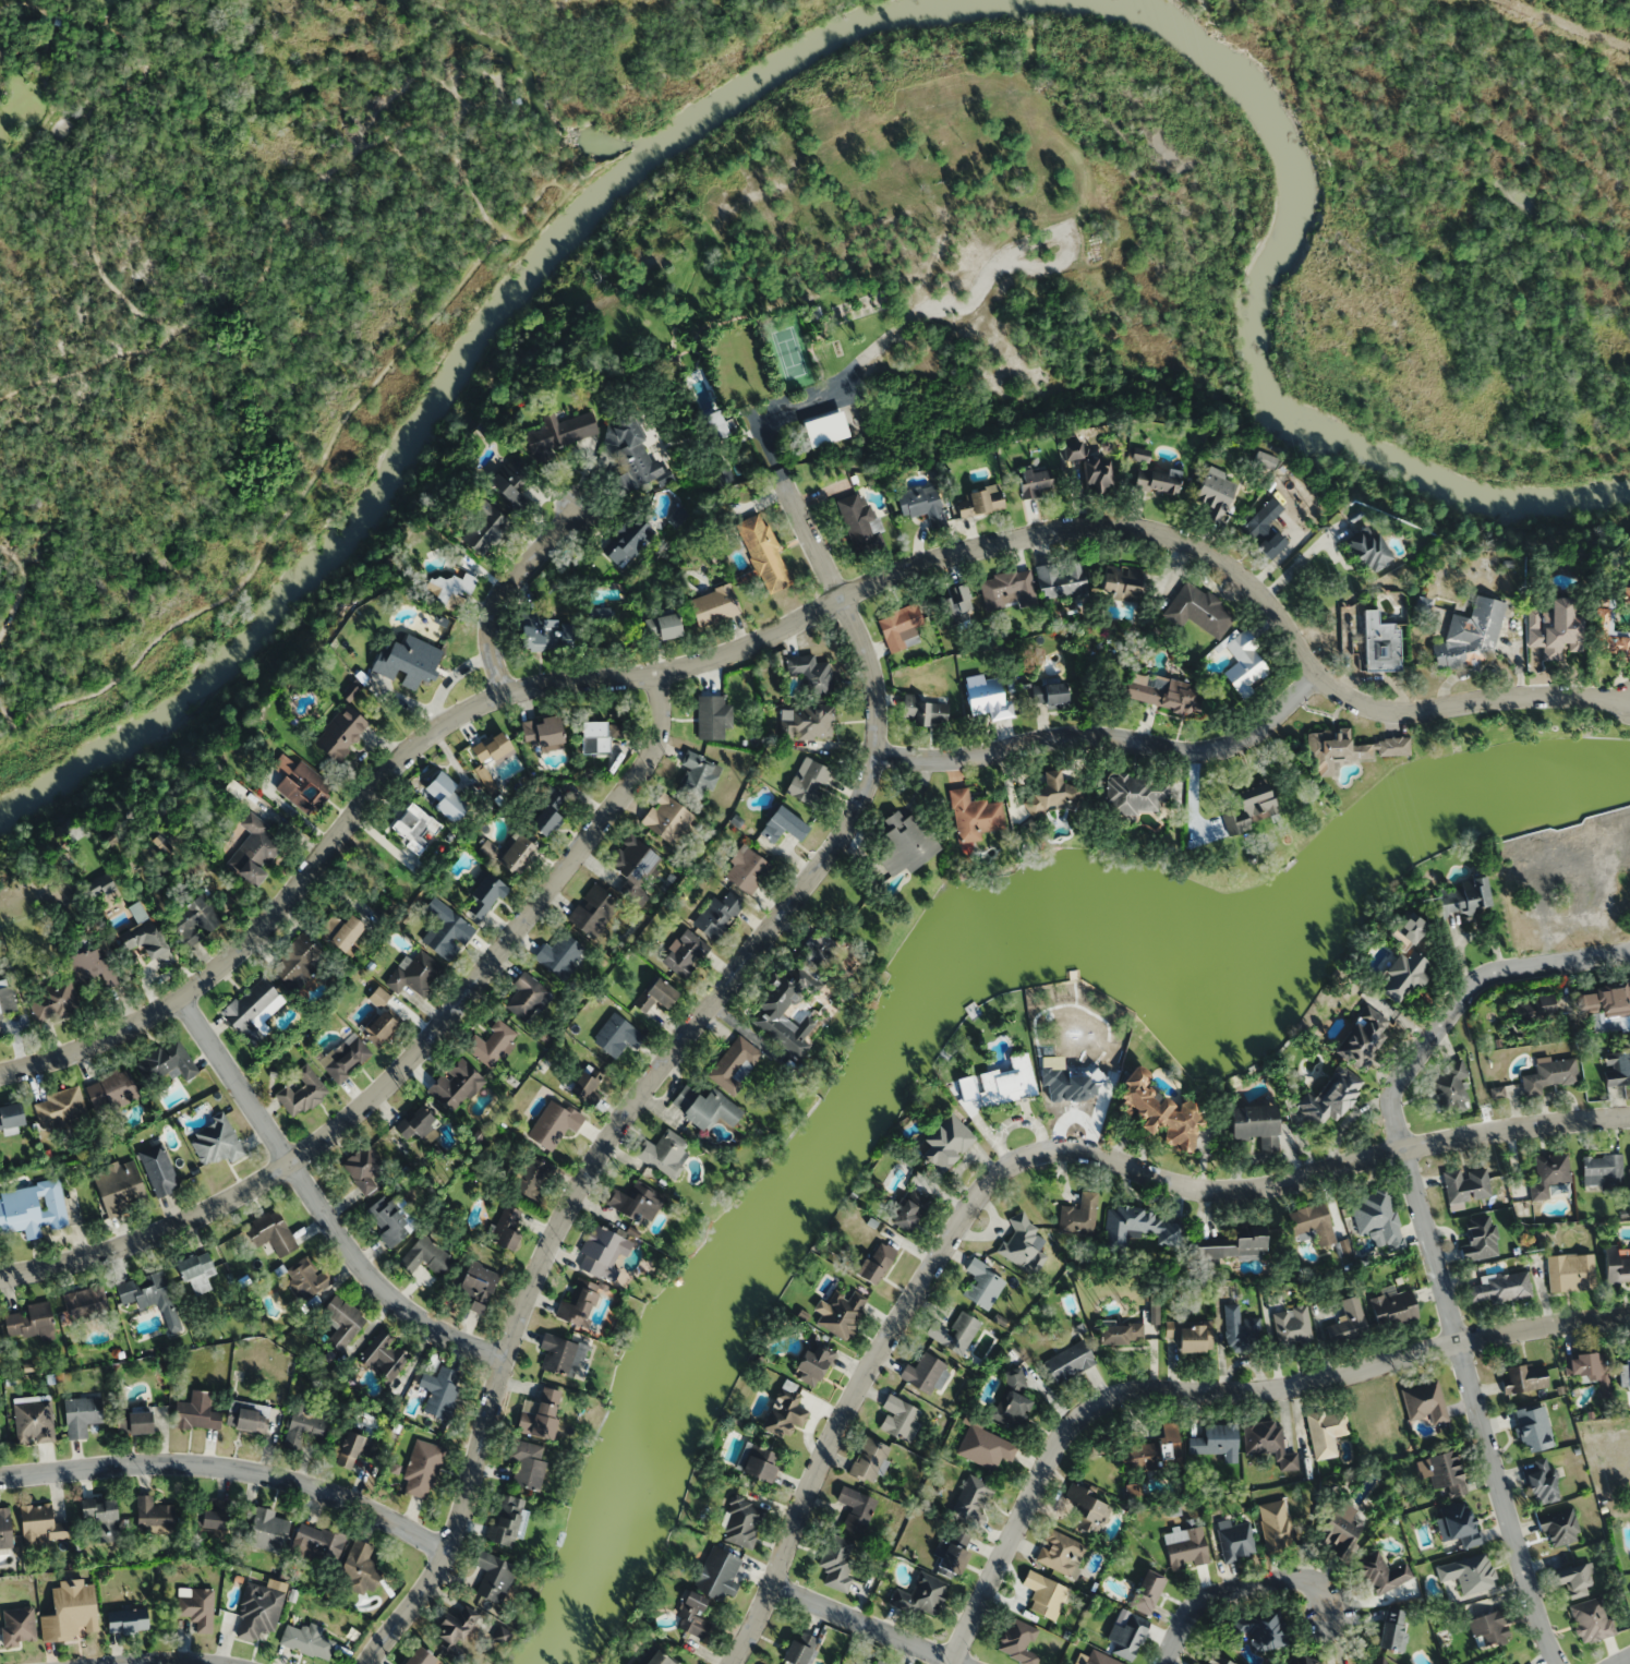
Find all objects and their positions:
road: (4, 7)
building: (514, 100)
road: (96, 129)
road: (334, 166)
road: (565, 194)
park: (222, 313)
road: (87, 366)
building: (560, 432)
building: (1071, 449)
building: (631, 454)
building: (1261, 459)
building: (1096, 474)
building: (1035, 481)
building: (1156, 481)
building: (510, 482)
building: (1215, 493)
building: (978, 502)
building: (923, 505)
road: (286, 516)
building: (859, 522)
power tower: (1316, 527)
building: (1265, 528)
building: (482, 529)
building: (627, 541)
building: (762, 553)
building: (1366, 554)
building: (1061, 580)
building: (1121, 582)
road: (20, 587)
building: (449, 589)
road: (506, 589)
building: (1007, 590)
building: (713, 605)
building: (955, 606)
building: (1202, 610)
building: (663, 626)
road: (784, 626)
building: (899, 627)
building: (1554, 630)
building: (543, 634)
building: (1609, 634)
building: (1470, 635)
building: (1379, 643)
building: (406, 660)
building: (1243, 662)
building: (811, 673)
building: (1159, 691)
building: (1049, 695)
building: (986, 698)
building: (921, 711)
road: (7, 714)
building: (713, 718)
building: (808, 722)
building: (541, 732)
building: (340, 733)
building: (597, 736)
road: (1111, 738)
building: (492, 748)
building: (1347, 749)
building: (698, 773)
building: (807, 781)
building: (299, 784)
building: (1051, 794)
building: (444, 795)
building: (1135, 795)
building: (1251, 808)
building: (547, 813)
building: (974, 816)
building: (666, 819)
building: (781, 824)
building: (414, 828)
building: (904, 843)
building: (253, 852)
building: (510, 854)
building: (632, 859)
building: (745, 870)
building: (99, 887)
building: (485, 895)
power tower: (1426, 896)
building: (1464, 897)
building: (593, 911)
building: (716, 915)
building: (197, 918)
building: (445, 930)
building: (341, 931)
building: (146, 938)
building: (560, 955)
building: (680, 955)
building: (297, 961)
building: (1402, 962)
building: (93, 968)
building: (415, 973)
building: (526, 996)
road: (1463, 996)
building: (653, 997)
building: (790, 997)
building: (7, 998)
building: (53, 1000)
building: (1607, 1005)
building: (1533, 1009)
building: (251, 1010)
building: (1, 1027)
building: (378, 1028)
building: (616, 1036)
building: (1362, 1037)
building: (491, 1044)
building: (343, 1057)
road: (412, 1060)
building: (167, 1061)
building: (735, 1064)
road: (665, 1066)
building: (1618, 1068)
building: (1551, 1075)
building: (1006, 1082)
building: (456, 1084)
building: (585, 1086)
building: (1449, 1088)
building: (112, 1090)
building: (300, 1093)
building: (1332, 1096)
building: (59, 1107)
building: (704, 1107)
building: (1158, 1111)
building: (12, 1116)
building: (553, 1124)
building: (416, 1125)
building: (1254, 1125)
building: (218, 1141)
building: (944, 1143)
building: (664, 1154)
road: (1039, 1156)
building: (159, 1169)
building: (363, 1169)
building: (1602, 1169)
building: (1547, 1173)
building: (532, 1179)
building: (120, 1186)
building: (1466, 1186)
road: (317, 1203)
building: (635, 1203)
building: (33, 1208)
building: (909, 1211)
building: (1079, 1216)
building: (1378, 1218)
building: (388, 1221)
building: (1312, 1223)
building: (505, 1228)
building: (1142, 1228)
building: (273, 1232)
building: (1480, 1239)
building: (1024, 1245)
building: (1231, 1246)
power tower: (1524, 1250)
building: (599, 1253)
building: (424, 1256)
building: (874, 1263)
building: (1616, 1266)
building: (197, 1271)
building: (1570, 1273)
building: (306, 1278)
building: (982, 1285)
building: (475, 1288)
building: (1498, 1288)
building: (152, 1295)
building: (85, 1301)
building: (579, 1302)
building: (1392, 1310)
building: (841, 1313)
building: (31, 1321)
building: (342, 1322)
building: (1347, 1323)
building: (1292, 1327)
building: (1241, 1330)
building: (953, 1334)
building: (1120, 1334)
building: (1190, 1335)
building: (384, 1354)
building: (560, 1355)
building: (812, 1361)
building: (1068, 1362)
building: (1591, 1370)
building: (1623, 1373)
building: (923, 1374)
building: (1524, 1378)
building: (440, 1389)
road: (1218, 1394)
building: (1011, 1401)
building: (1424, 1402)
road: (1476, 1408)
building: (197, 1411)
building: (783, 1411)
building: (83, 1414)
building: (539, 1414)
building: (247, 1415)
building: (898, 1418)
building: (34, 1419)
building: (136, 1421)
building: (306, 1424)
building: (1533, 1427)
building: (1326, 1432)
building: (0, 1443)
building: (1216, 1443)
building: (1267, 1443)
building: (985, 1447)
building: (355, 1448)
building: (1152, 1451)
building: (868, 1460)
building: (759, 1463)
building: (527, 1464)
road: (231, 1466)
building: (422, 1469)
building: (1445, 1474)
building: (1541, 1482)
building: (1366, 1487)
building: (971, 1502)
building: (855, 1509)
building: (1085, 1510)
building: (154, 1514)
building: (215, 1515)
building: (102, 1517)
building: (507, 1520)
building: (41, 1523)
building: (741, 1523)
building: (1457, 1524)
building: (1276, 1526)
building: (265, 1527)
building: (5, 1528)
building: (1558, 1528)
building: (1337, 1536)
building: (1234, 1541)
building: (317, 1542)
building: (1185, 1546)
building: (1061, 1553)
building: (949, 1559)
building: (836, 1563)
building: (360, 1567)
building: (1468, 1572)
building: (1383, 1573)
building: (716, 1575)
building: (494, 1576)
building: (1571, 1580)
building: (1146, 1591)
road: (1236, 1591)
building: (919, 1595)
building: (1045, 1595)
building: (197, 1606)
building: (72, 1611)
building: (258, 1612)
building: (469, 1614)
building: (691, 1616)
building: (130, 1619)
building: (1591, 1619)
road: (864, 1624)
building: (1264, 1626)
building: (1490, 1628)
building: (1391, 1632)
building: (504, 1635)
building: (1126, 1636)
building: (451, 1638)
building: (306, 1639)
building: (1017, 1642)
building: (798, 1649)
building: (422, 1656)
building: (662, 1657)
building: (1097, 1659)
building: (1214, 1660)
building: (1299, 1660)
road: (1625, 1661)
road: (180, 1662)
building: (876, 1662)
building: (1378, 1662)
building: (1506, 1663)

